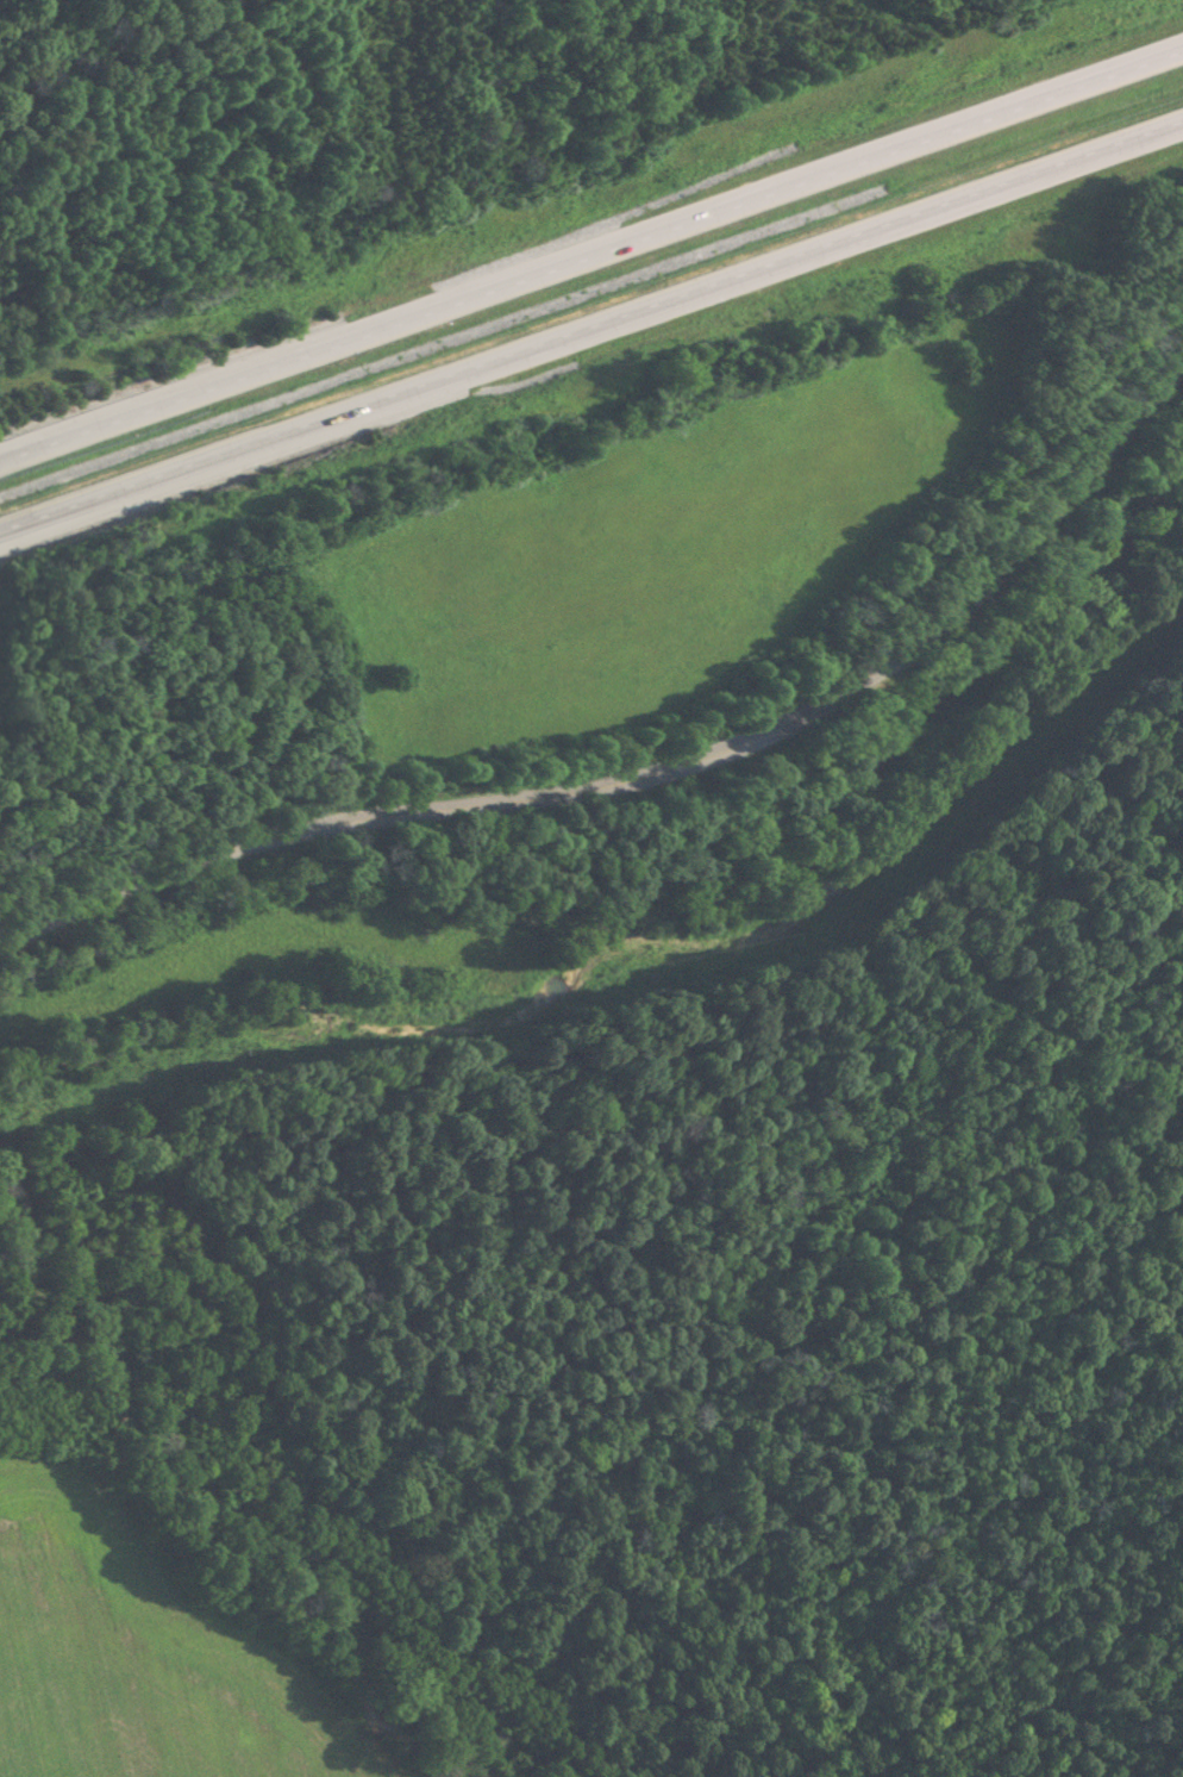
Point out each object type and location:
road: (603, 249)
road: (619, 319)
road: (13, 459)
road: (27, 525)
road: (645, 767)

